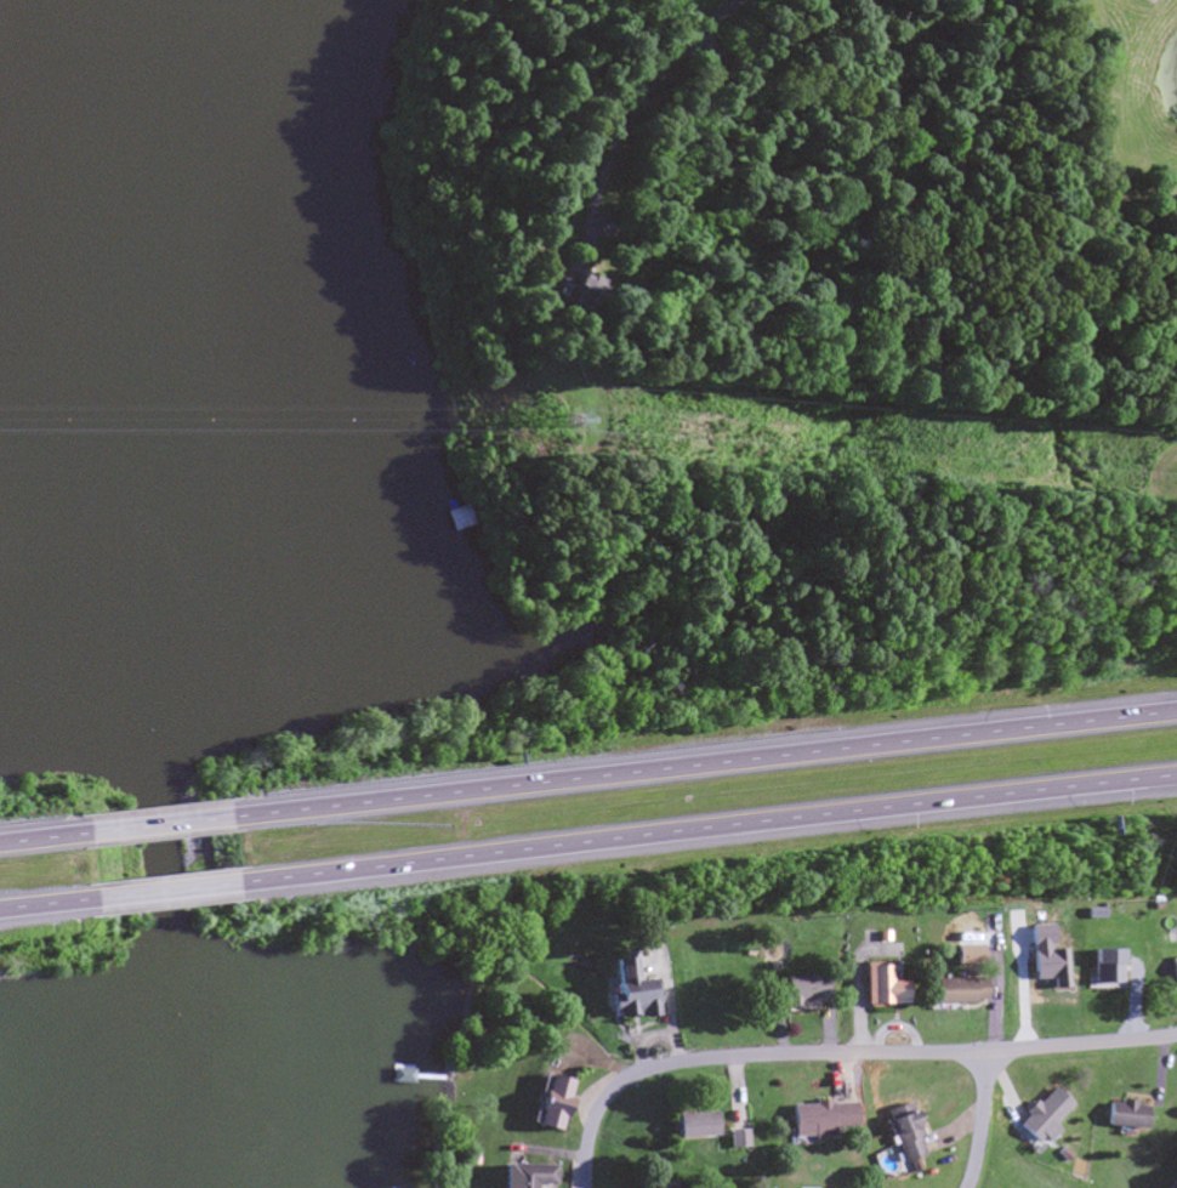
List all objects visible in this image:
building: (558, 286)
building: (462, 519)
road: (704, 763)
road: (152, 825)
road: (707, 831)
road: (36, 839)
road: (160, 892)
road: (41, 904)
building: (965, 956)
building: (1173, 965)
building: (880, 989)
building: (629, 991)
building: (802, 993)
building: (954, 993)
road: (838, 1052)
building: (410, 1078)
building: (550, 1105)
building: (1121, 1116)
building: (1039, 1119)
road: (980, 1120)
building: (818, 1121)
building: (693, 1127)
building: (902, 1135)
building: (735, 1141)
building: (525, 1177)
building: (681, 1186)
building: (1175, 1186)

